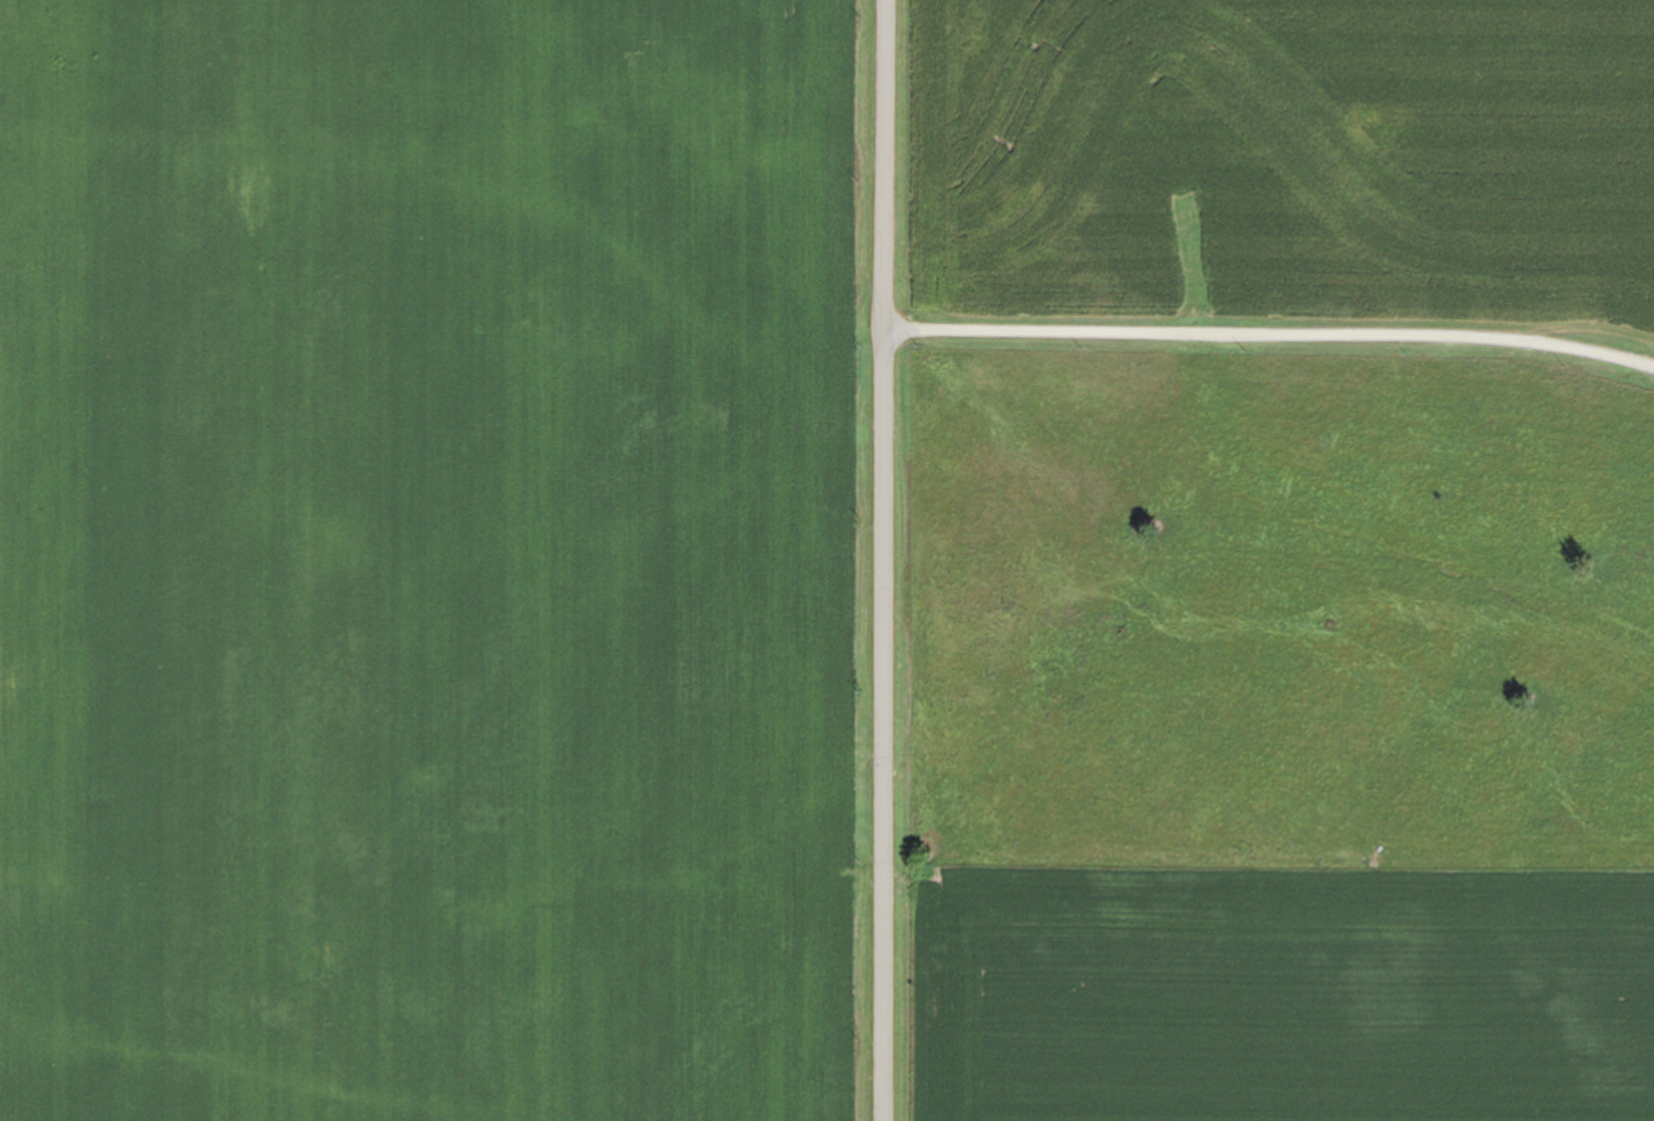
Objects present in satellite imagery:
road: (1268, 333)
road: (878, 560)

